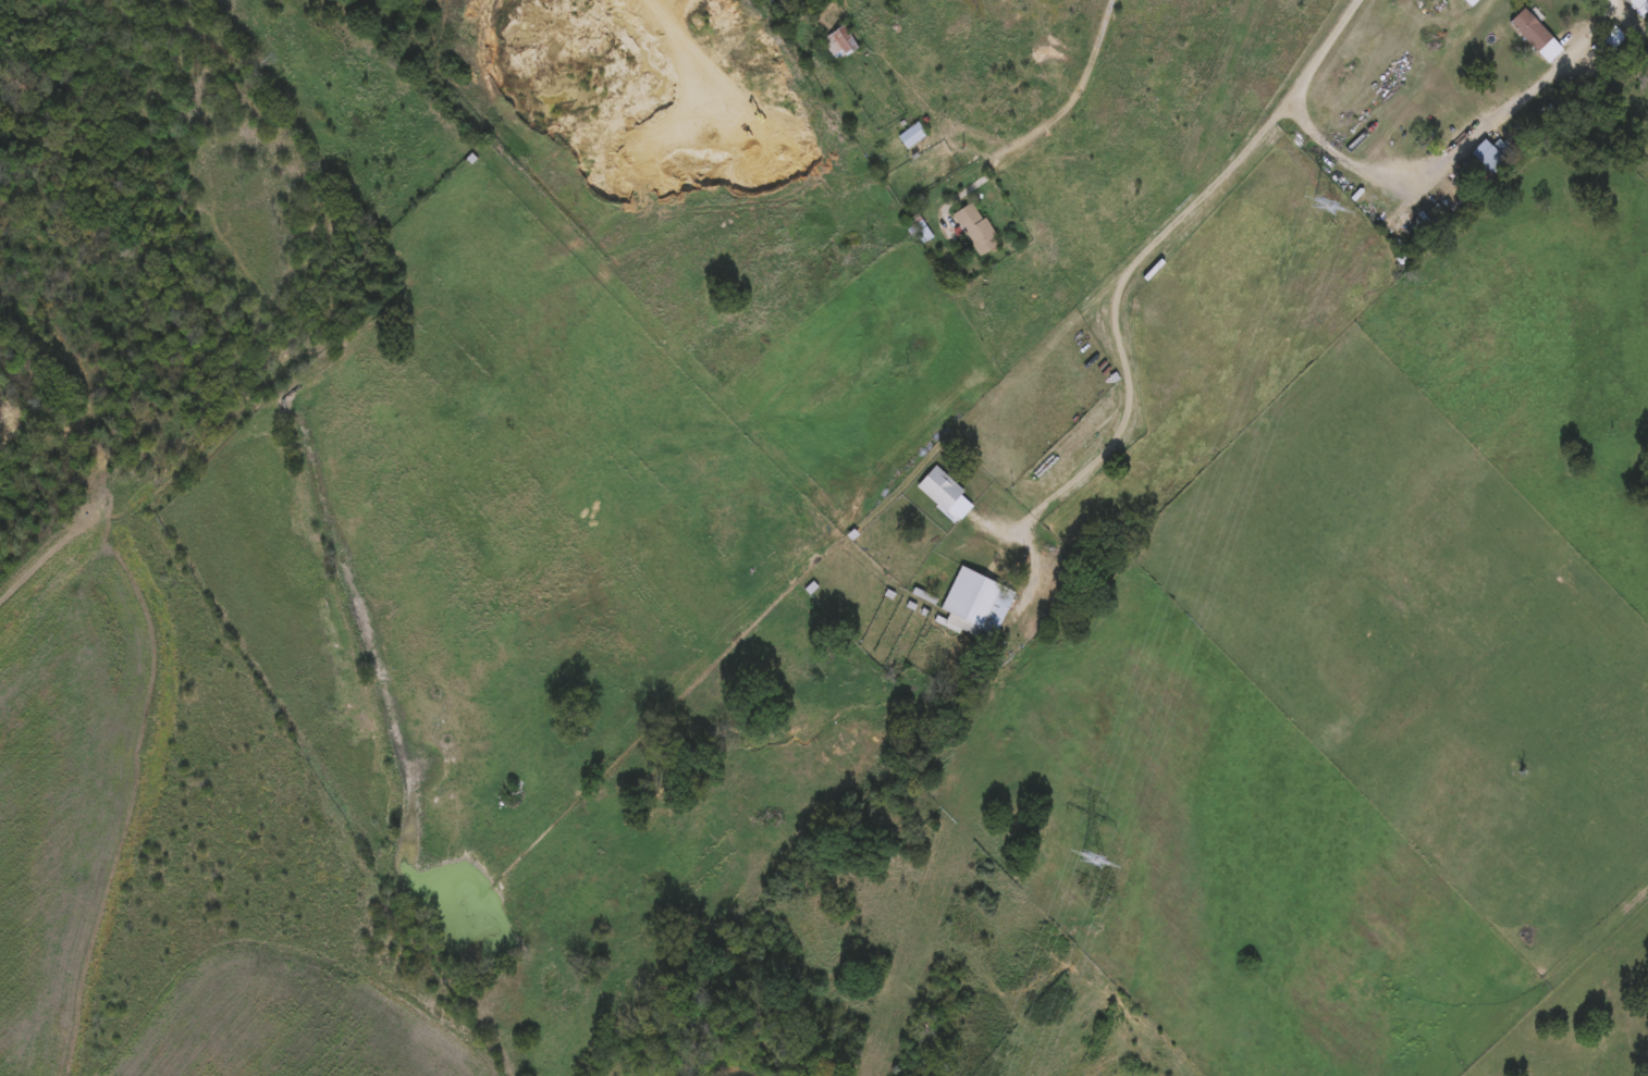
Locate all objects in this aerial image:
building: (1640, 4)
road: (1622, 5)
building: (1535, 33)
building: (838, 41)
road: (1323, 49)
road: (1005, 136)
road: (1462, 145)
road: (994, 170)
road: (1178, 218)
building: (977, 225)
power tower: (1313, 226)
road: (1109, 351)
building: (939, 486)
building: (974, 602)
power tower: (1085, 879)

